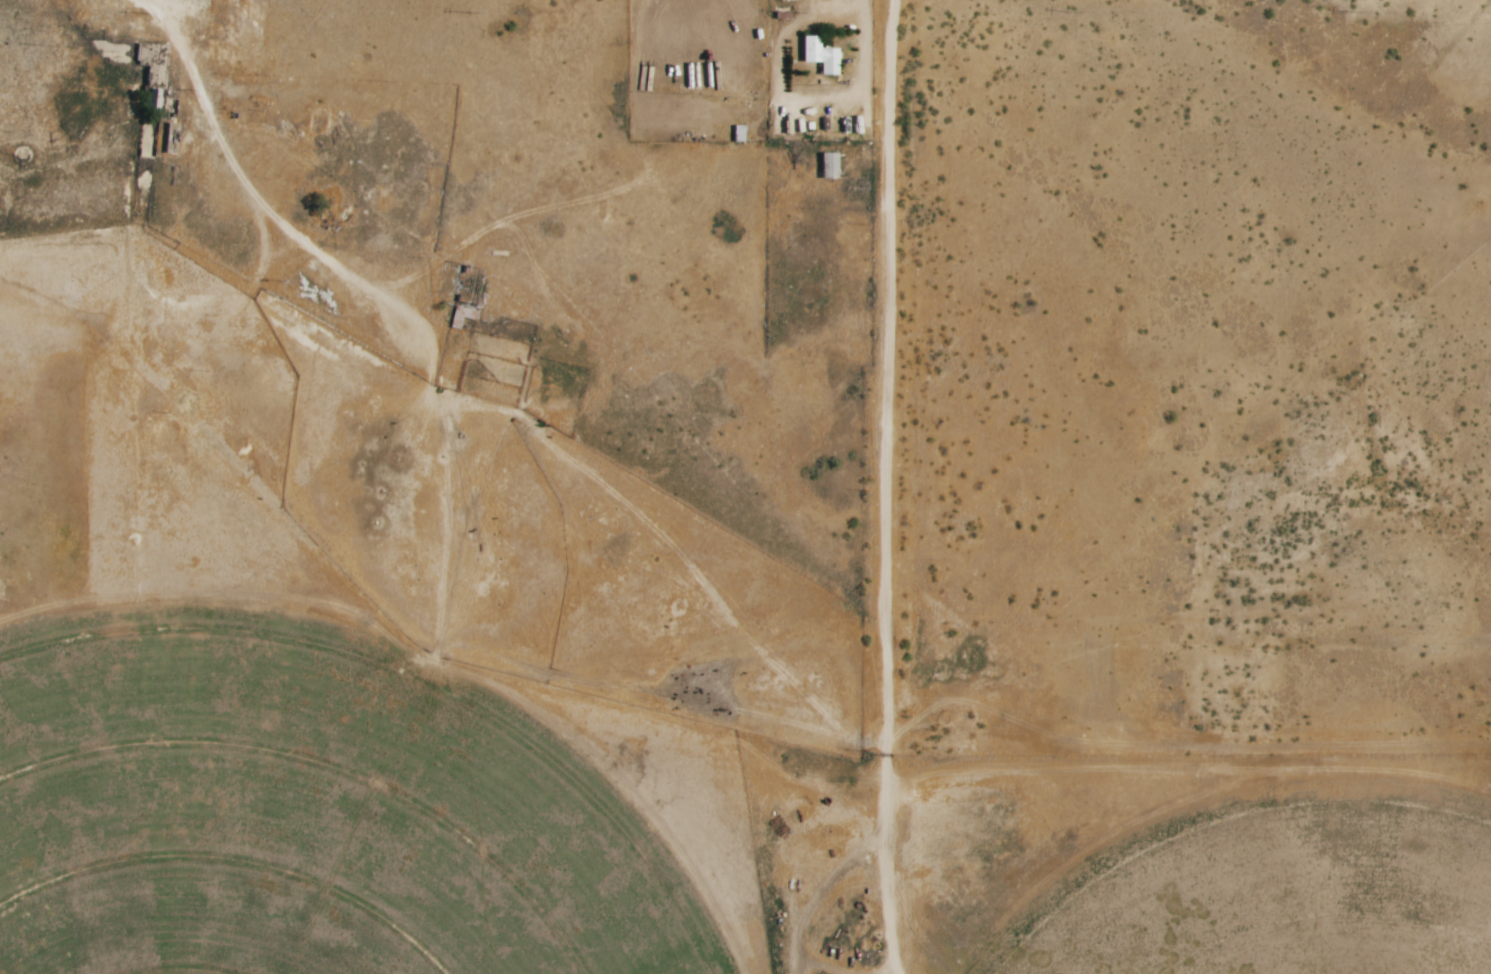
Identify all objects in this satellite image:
road: (893, 0)
building: (822, 55)
building: (831, 165)
road: (889, 487)

